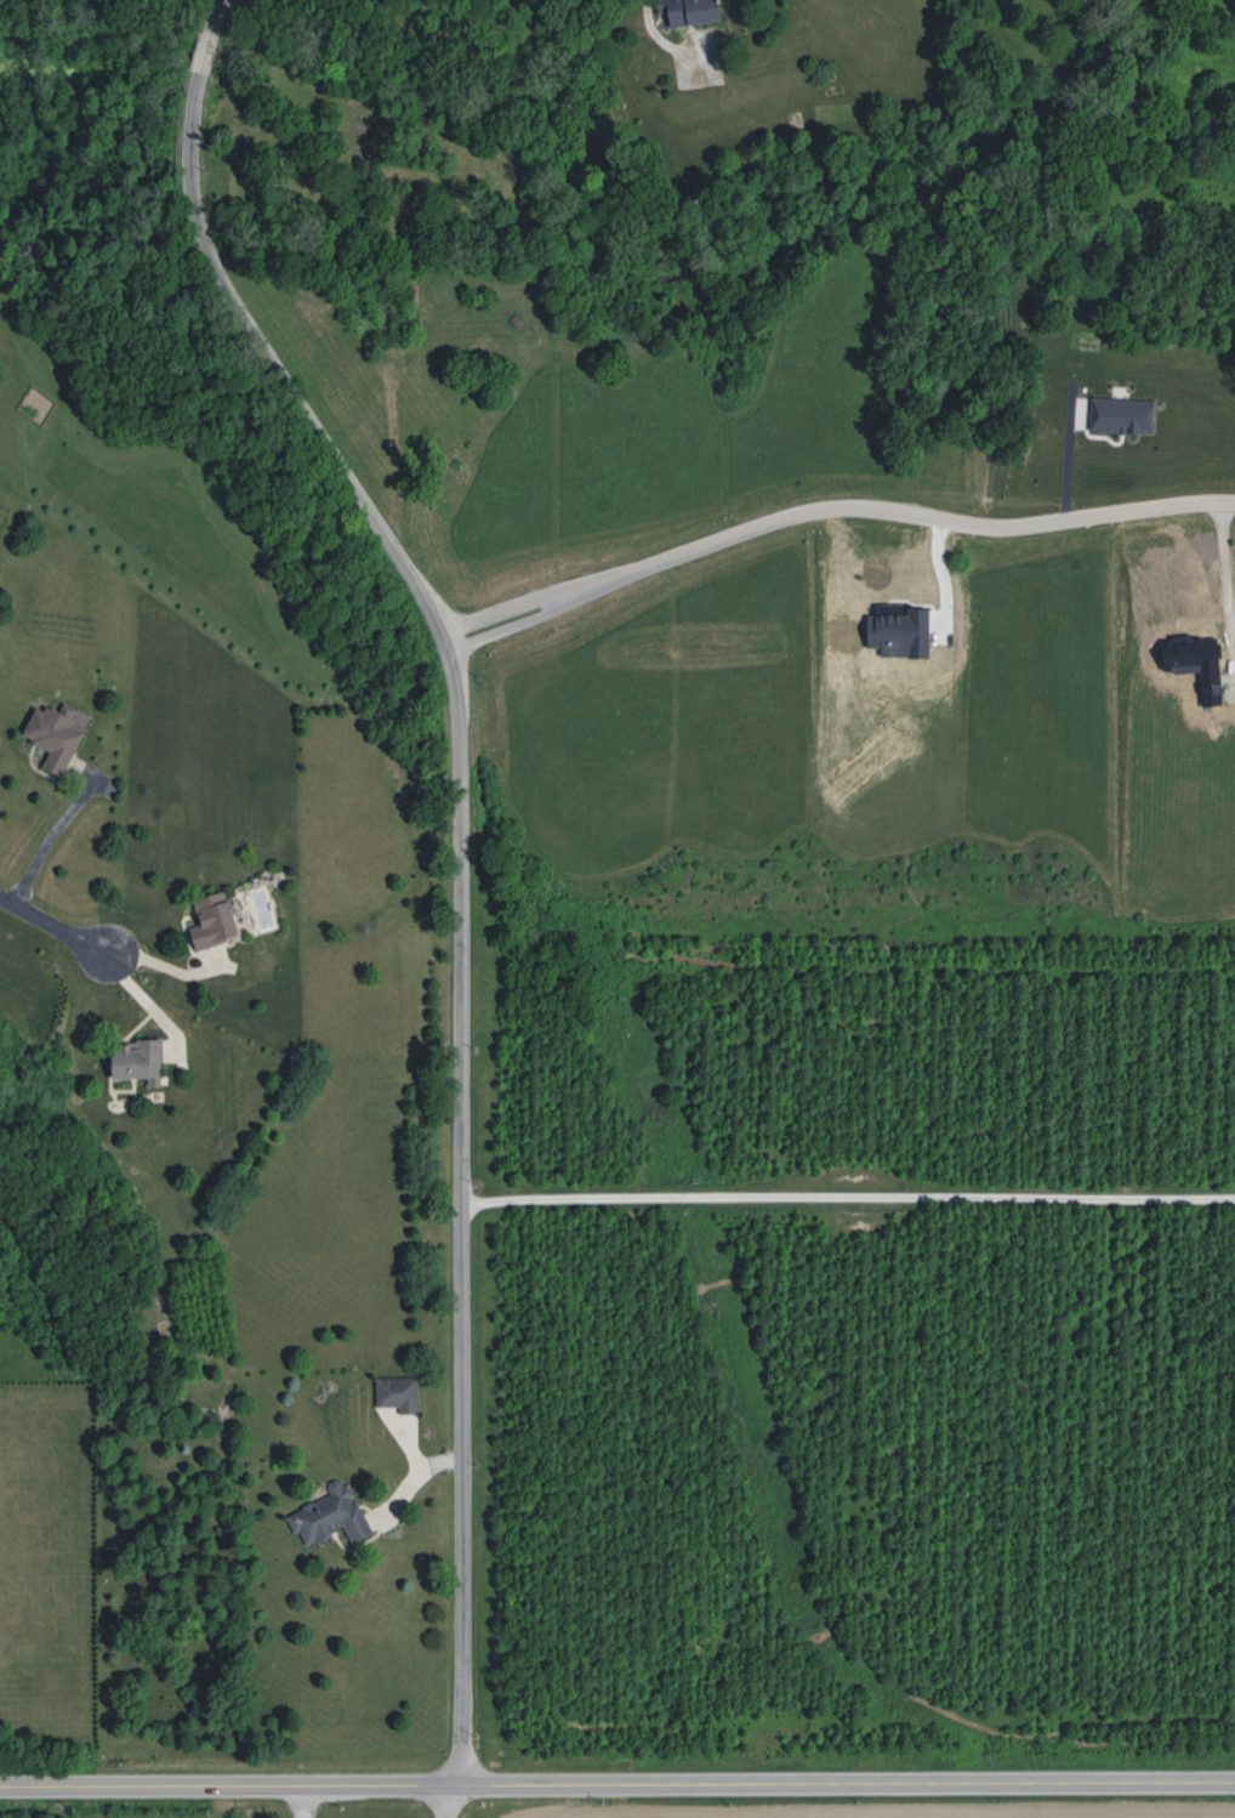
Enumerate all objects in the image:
building: (687, 12)
building: (1121, 415)
road: (830, 510)
road: (1228, 592)
building: (898, 631)
building: (1194, 663)
building: (56, 734)
road: (51, 834)
road: (459, 852)
building: (214, 920)
road: (47, 926)
building: (137, 1061)
road: (847, 1197)
building: (398, 1393)
building: (330, 1517)
road: (1018, 1780)
road: (400, 1783)
road: (454, 1800)

